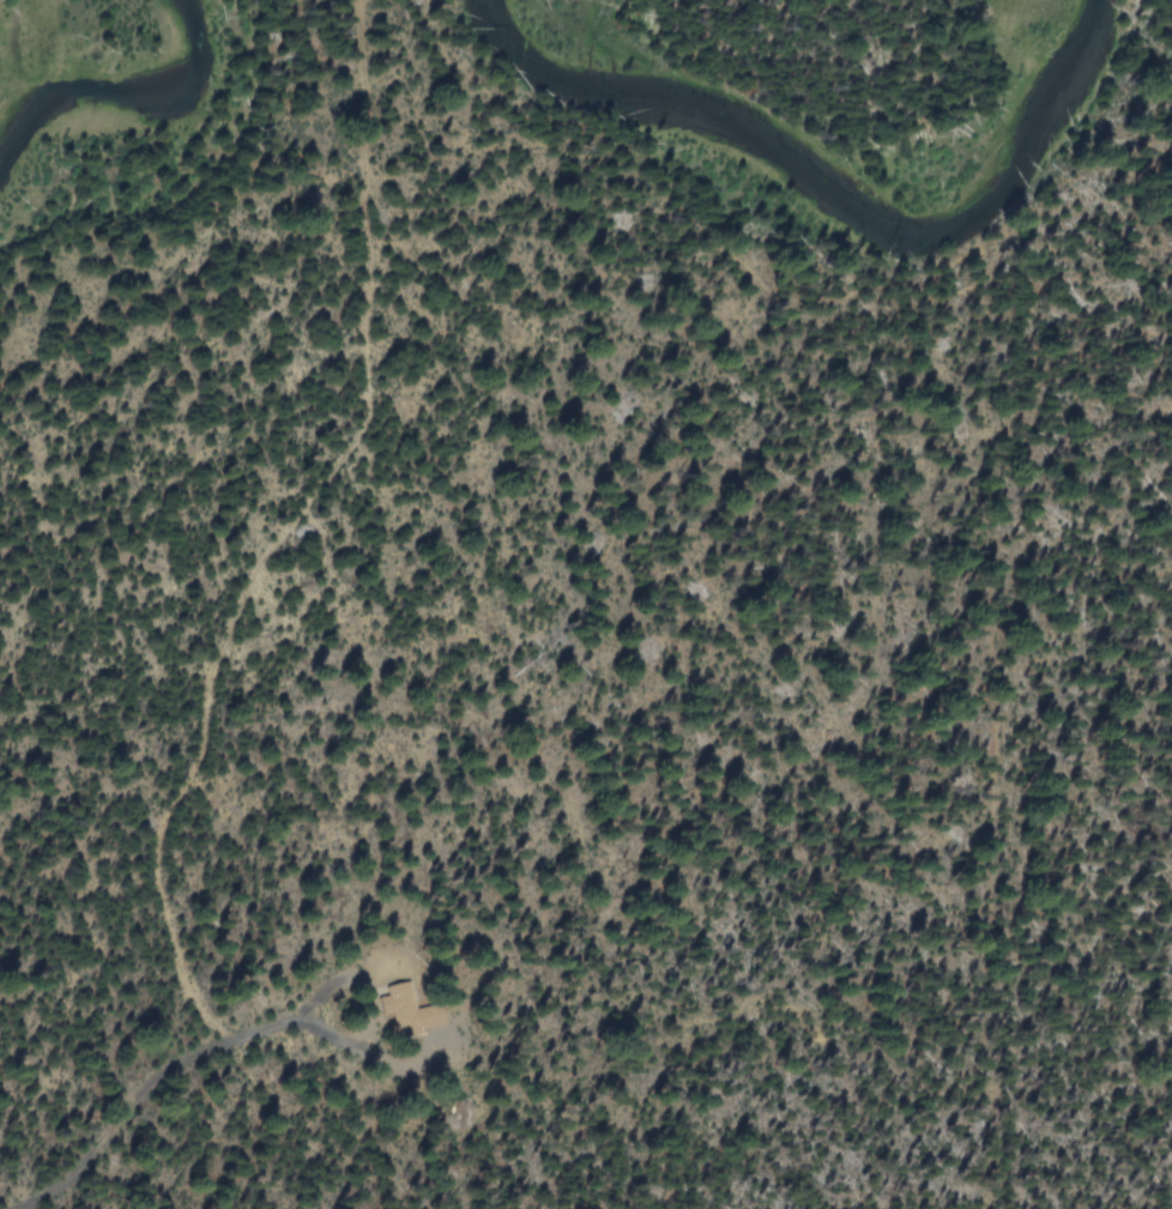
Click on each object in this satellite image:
river: (117, 96)
river: (830, 177)
road: (252, 584)
building: (413, 1011)
road: (157, 1100)

